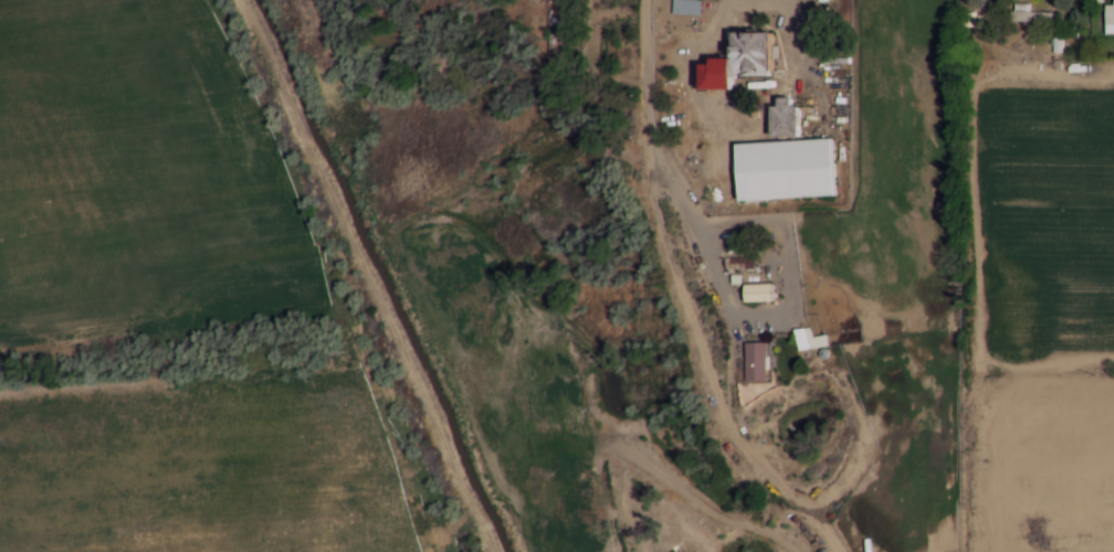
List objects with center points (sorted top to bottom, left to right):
road: (755, 4)
building: (684, 6)
building: (1027, 13)
building: (1107, 18)
building: (745, 52)
road: (807, 61)
road: (683, 65)
building: (705, 74)
building: (776, 118)
road: (664, 159)
building: (777, 169)
building: (735, 263)
building: (754, 291)
building: (810, 339)
building: (753, 361)

